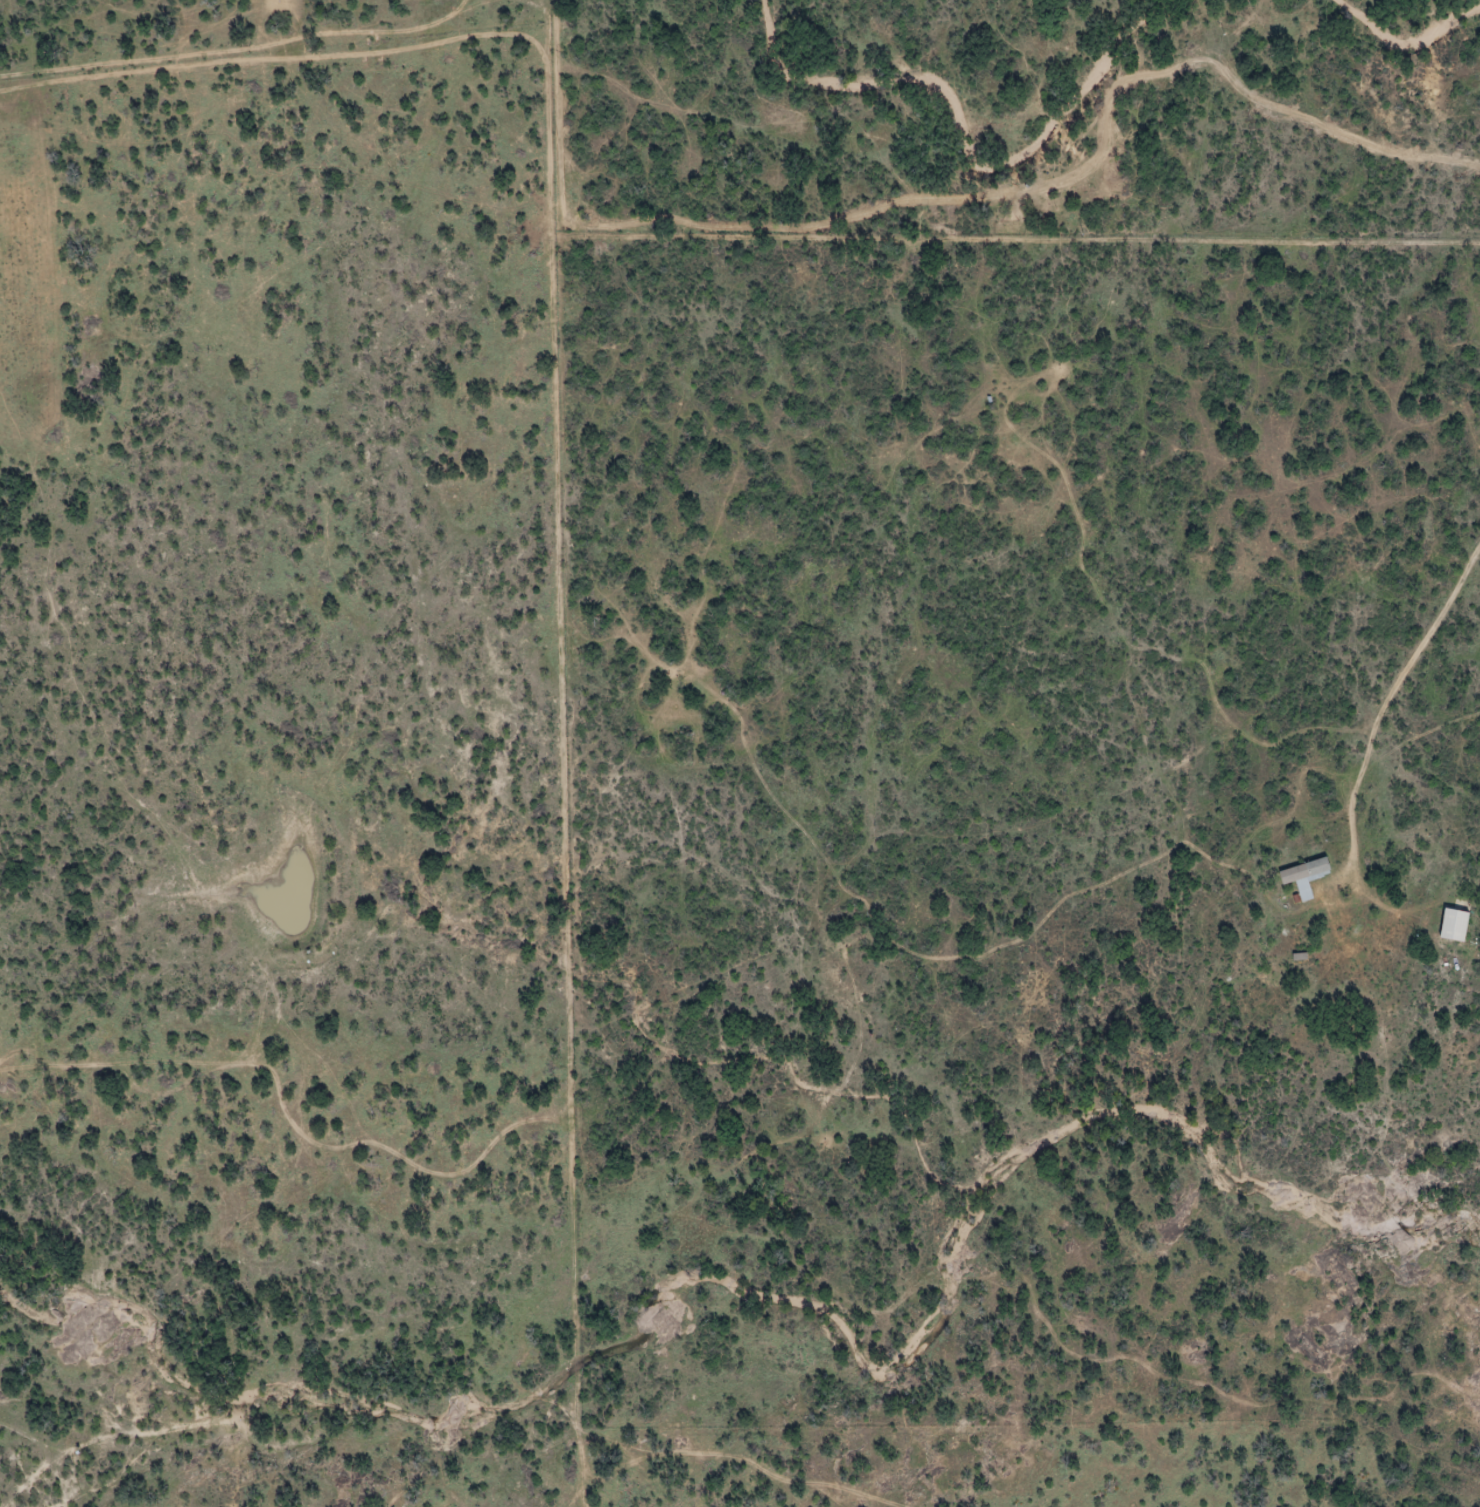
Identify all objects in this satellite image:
building: (1305, 877)
building: (1454, 926)

